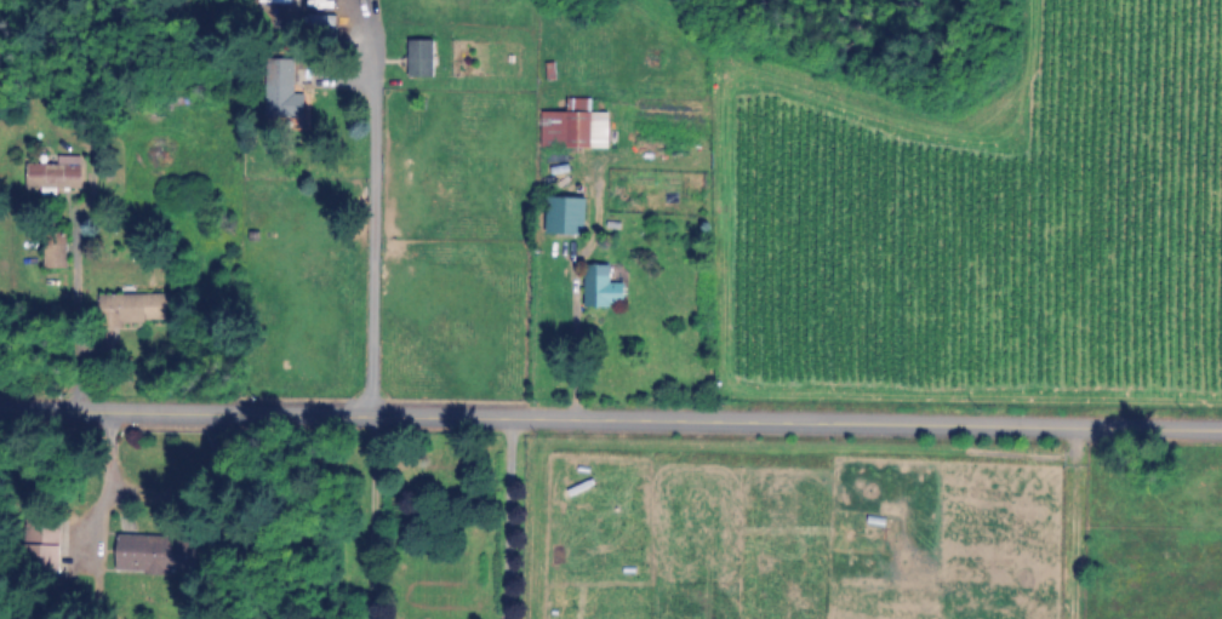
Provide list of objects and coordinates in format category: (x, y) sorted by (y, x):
building: (279, 1)
building: (422, 58)
building: (281, 73)
building: (570, 128)
building: (57, 171)
road: (371, 196)
building: (561, 217)
building: (57, 248)
building: (598, 288)
building: (137, 306)
road: (74, 316)
road: (610, 419)
road: (156, 495)
road: (378, 517)
road: (506, 518)
road: (1063, 523)
building: (52, 551)
building: (159, 552)

